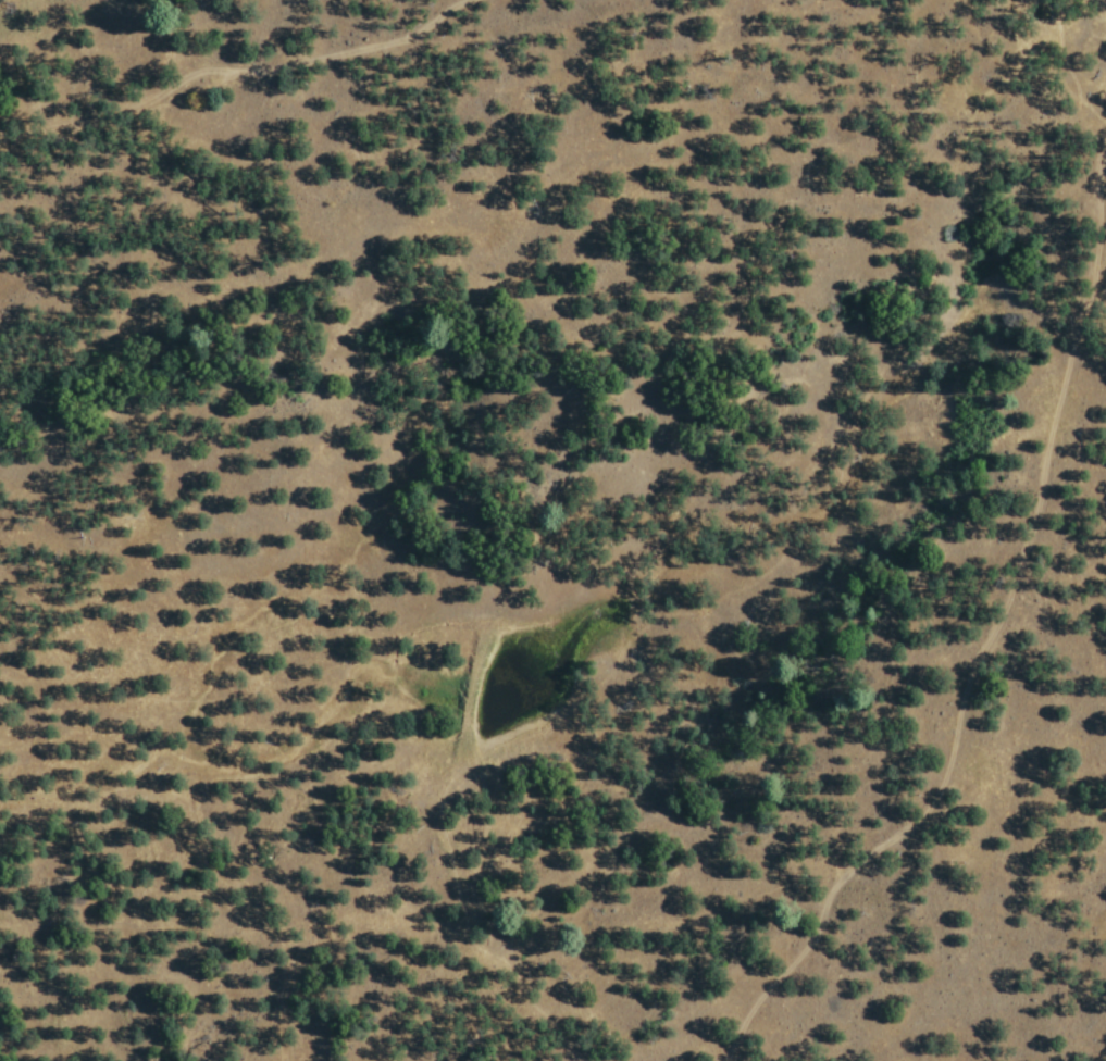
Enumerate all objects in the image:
road: (231, 71)

